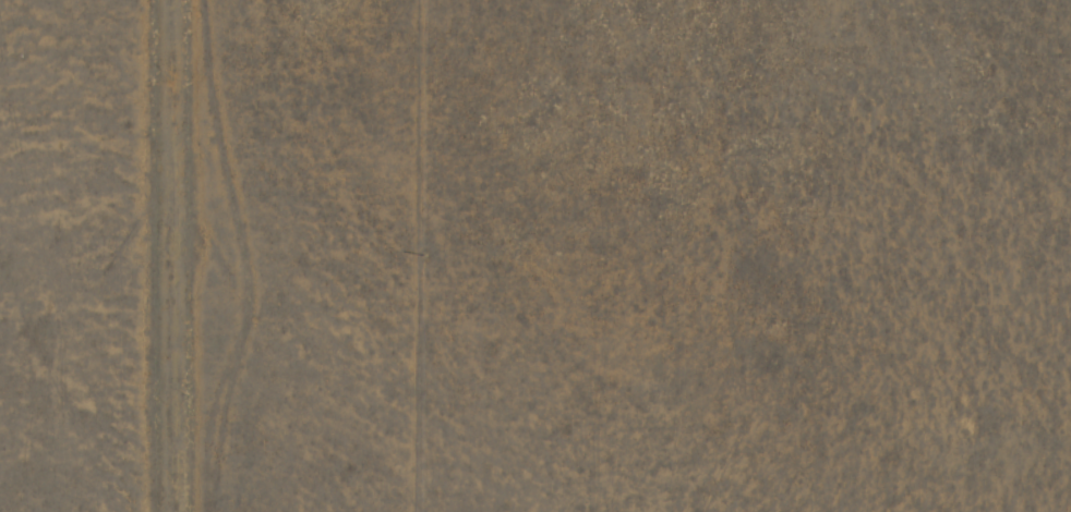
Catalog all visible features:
road: (216, 256)

